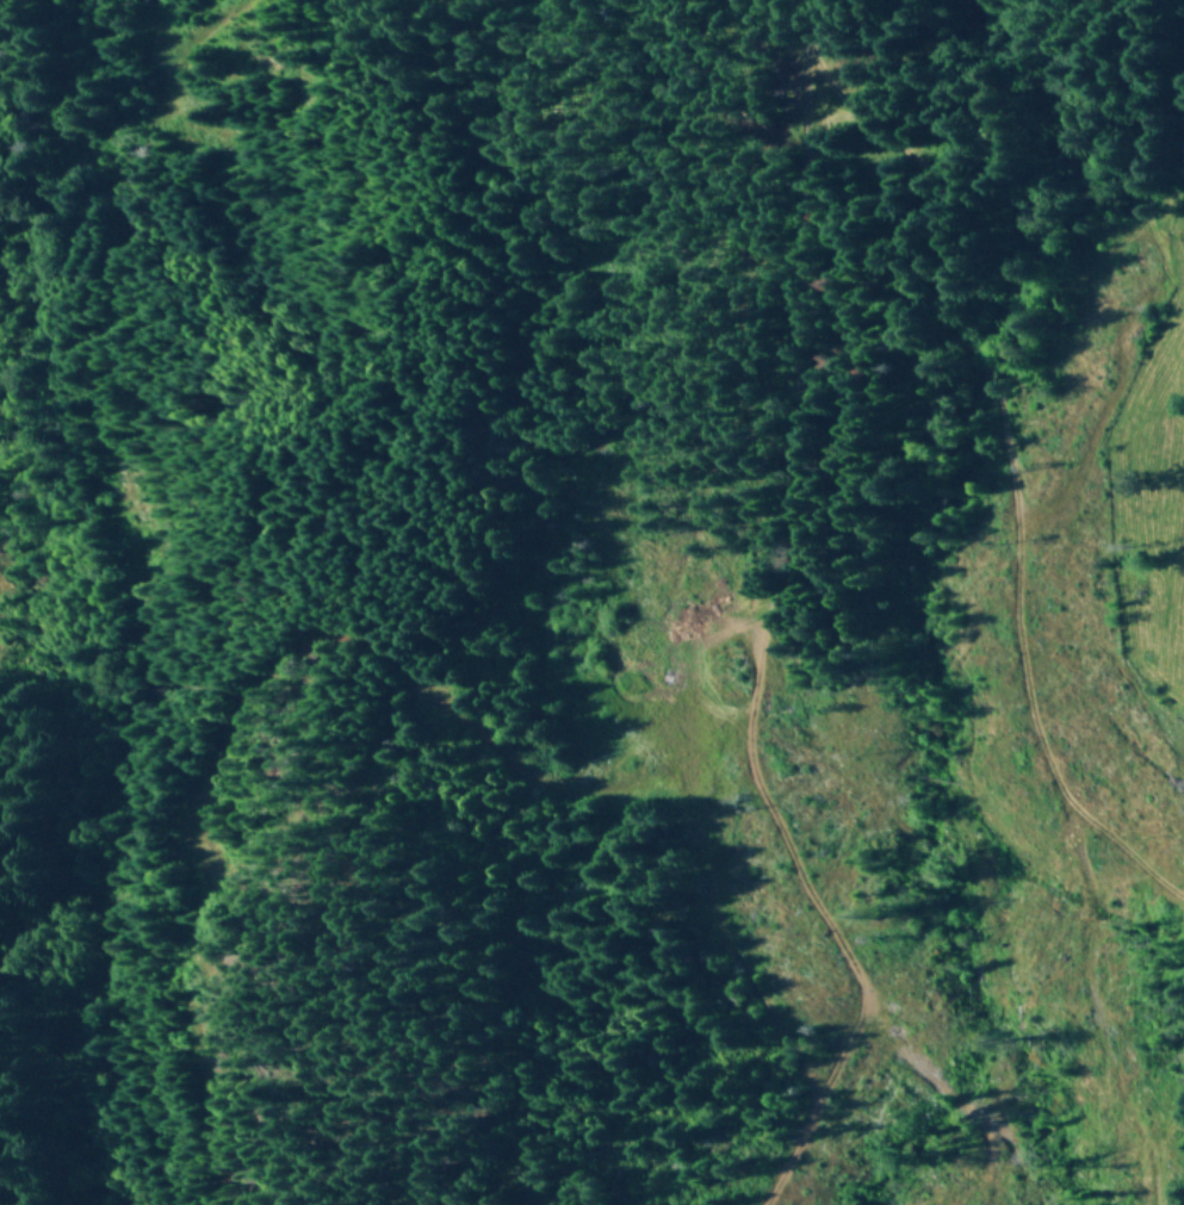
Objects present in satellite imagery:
road: (1133, 45)
building: (1180, 155)

